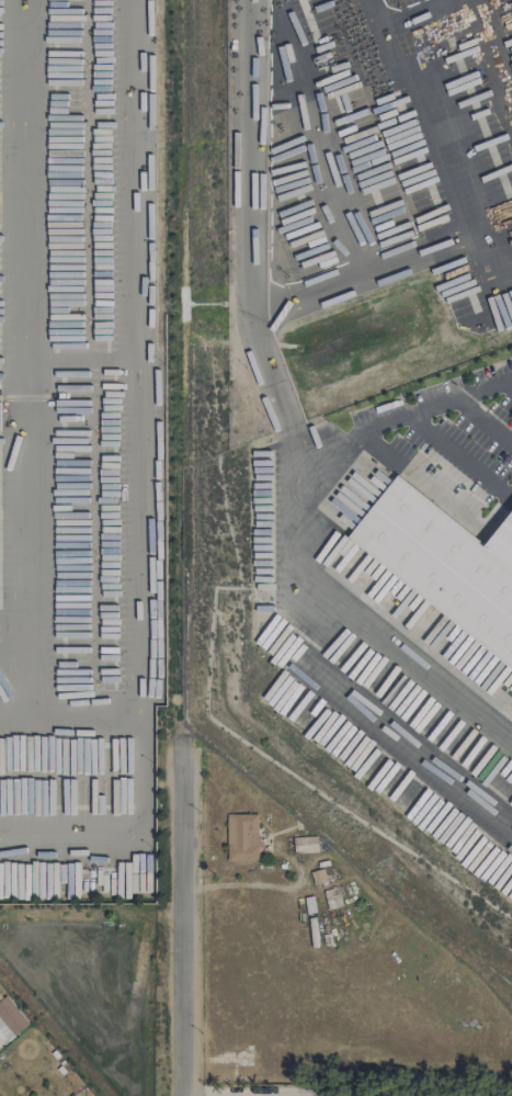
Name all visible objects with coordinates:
road: (402, 15)
road: (435, 122)
road: (250, 246)
road: (396, 261)
road: (509, 382)
road: (480, 387)
building: (0, 415)
building: (502, 543)
road: (294, 545)
building: (442, 566)
road: (19, 634)
road: (20, 711)
road: (93, 714)
building: (241, 837)
road: (36, 841)
building: (305, 844)
road: (181, 915)
building: (11, 1016)
building: (4, 1033)
road: (223, 1094)

